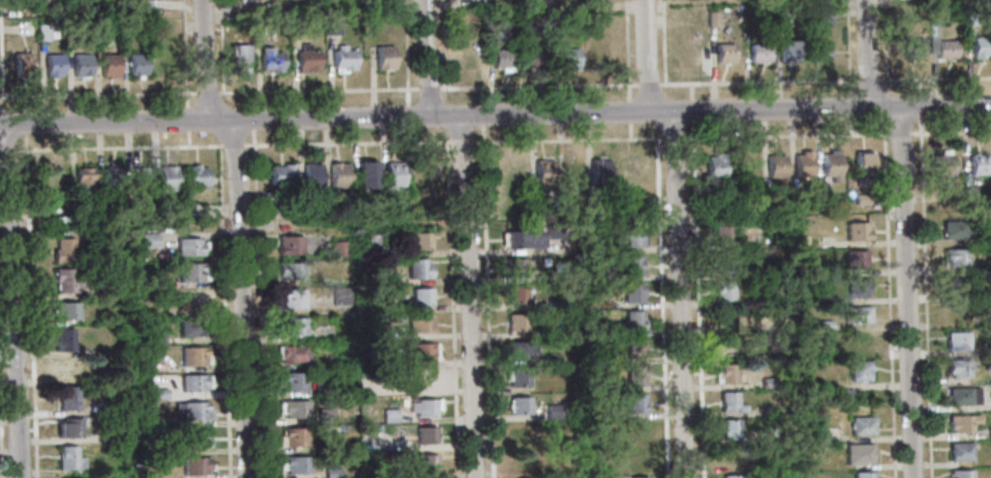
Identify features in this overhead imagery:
building: (156, 0)
building: (350, 1)
building: (30, 3)
building: (58, 7)
building: (933, 15)
building: (824, 16)
building: (782, 18)
building: (969, 18)
building: (713, 19)
building: (524, 23)
building: (297, 27)
building: (332, 27)
building: (261, 28)
building: (44, 31)
road: (884, 40)
road: (664, 41)
road: (442, 43)
building: (933, 45)
road: (221, 46)
building: (980, 47)
road: (848, 48)
building: (912, 48)
building: (946, 49)
road: (627, 51)
road: (406, 52)
building: (693, 52)
building: (789, 52)
building: (819, 52)
road: (184, 53)
building: (724, 53)
building: (759, 53)
road: (867, 54)
road: (648, 55)
building: (384, 57)
building: (601, 57)
road: (426, 58)
building: (535, 58)
building: (307, 59)
building: (473, 59)
building: (569, 59)
road: (206, 60)
building: (239, 60)
building: (270, 60)
building: (343, 60)
building: (503, 60)
building: (22, 64)
building: (81, 64)
building: (53, 65)
building: (136, 65)
road: (1, 66)
building: (109, 66)
road: (937, 79)
road: (871, 80)
road: (758, 82)
road: (648, 84)
road: (538, 86)
road: (429, 88)
road: (918, 88)
road: (319, 90)
road: (690, 91)
road: (208, 93)
road: (98, 94)
road: (481, 95)
road: (251, 100)
road: (850, 107)
road: (919, 107)
road: (691, 110)
road: (629, 112)
road: (481, 114)
road: (495, 114)
road: (407, 116)
road: (187, 119)
road: (251, 119)
road: (850, 126)
road: (24, 129)
road: (630, 130)
road: (951, 132)
road: (901, 133)
road: (408, 134)
road: (679, 136)
road: (188, 138)
road: (460, 142)
road: (346, 143)
road: (232, 145)
road: (110, 146)
building: (803, 164)
building: (831, 165)
building: (978, 165)
building: (715, 166)
building: (775, 166)
building: (864, 166)
building: (943, 166)
building: (511, 169)
building: (543, 171)
building: (573, 171)
building: (599, 172)
building: (393, 174)
building: (195, 175)
building: (281, 175)
building: (366, 175)
building: (312, 176)
building: (338, 176)
building: (53, 178)
building: (167, 178)
building: (111, 179)
building: (139, 179)
building: (83, 180)
building: (969, 194)
building: (823, 197)
building: (724, 199)
building: (862, 199)
building: (271, 202)
building: (590, 202)
building: (537, 204)
building: (302, 207)
building: (159, 209)
building: (50, 215)
building: (76, 216)
building: (858, 231)
building: (956, 231)
building: (723, 235)
building: (631, 237)
building: (522, 239)
building: (148, 240)
building: (421, 240)
building: (371, 242)
building: (800, 242)
building: (289, 245)
building: (189, 246)
building: (601, 247)
building: (339, 248)
building: (557, 248)
building: (64, 250)
building: (955, 257)
building: (856, 259)
building: (724, 263)
building: (632, 265)
building: (515, 267)
building: (418, 269)
building: (290, 270)
building: (191, 272)
building: (66, 280)
building: (387, 280)
building: (156, 281)
building: (955, 285)
building: (112, 287)
building: (857, 287)
building: (725, 291)
building: (632, 292)
road: (908, 292)
building: (515, 294)
road: (682, 294)
building: (981, 294)
building: (339, 296)
road: (471, 296)
building: (421, 297)
road: (924, 297)
building: (289, 298)
road: (241, 299)
road: (696, 299)
building: (191, 300)
road: (13, 301)
road: (486, 301)
road: (257, 304)
road: (30, 305)
road: (889, 305)
building: (384, 307)
road: (661, 307)
road: (451, 309)
building: (66, 310)
road: (223, 310)
building: (957, 311)
building: (859, 315)
building: (726, 318)
building: (634, 320)
building: (517, 322)
building: (420, 324)
building: (823, 325)
building: (293, 326)
building: (191, 327)
building: (767, 327)
building: (608, 330)
building: (154, 336)
building: (64, 339)
building: (958, 341)
building: (859, 342)
building: (729, 347)
building: (634, 349)
building: (520, 350)
building: (824, 351)
building: (422, 352)
building: (291, 354)
building: (194, 357)
building: (551, 358)
building: (959, 368)
building: (71, 369)
building: (860, 371)
building: (726, 375)
building: (635, 376)
building: (517, 377)
building: (424, 380)
building: (195, 382)
building: (292, 382)
building: (769, 383)
building: (378, 390)
building: (155, 393)
building: (843, 394)
building: (964, 396)
building: (67, 397)
building: (636, 403)
building: (731, 403)
building: (520, 406)
building: (98, 408)
building: (424, 408)
building: (293, 409)
building: (193, 410)
building: (555, 412)
building: (595, 413)
building: (324, 416)
building: (389, 416)
building: (963, 422)
building: (862, 426)
building: (70, 428)
building: (367, 429)
building: (378, 429)
building: (639, 430)
building: (730, 430)
building: (521, 433)
building: (990, 433)
building: (425, 435)
building: (769, 435)
building: (109, 436)
building: (294, 437)
building: (195, 438)
building: (961, 451)
road: (0, 455)
building: (859, 455)
building: (69, 458)
building: (522, 459)
building: (426, 463)
building: (295, 465)
building: (195, 466)
building: (332, 473)
building: (394, 473)
building: (961, 474)
building: (864, 475)
building: (639, 477)
building: (731, 477)

